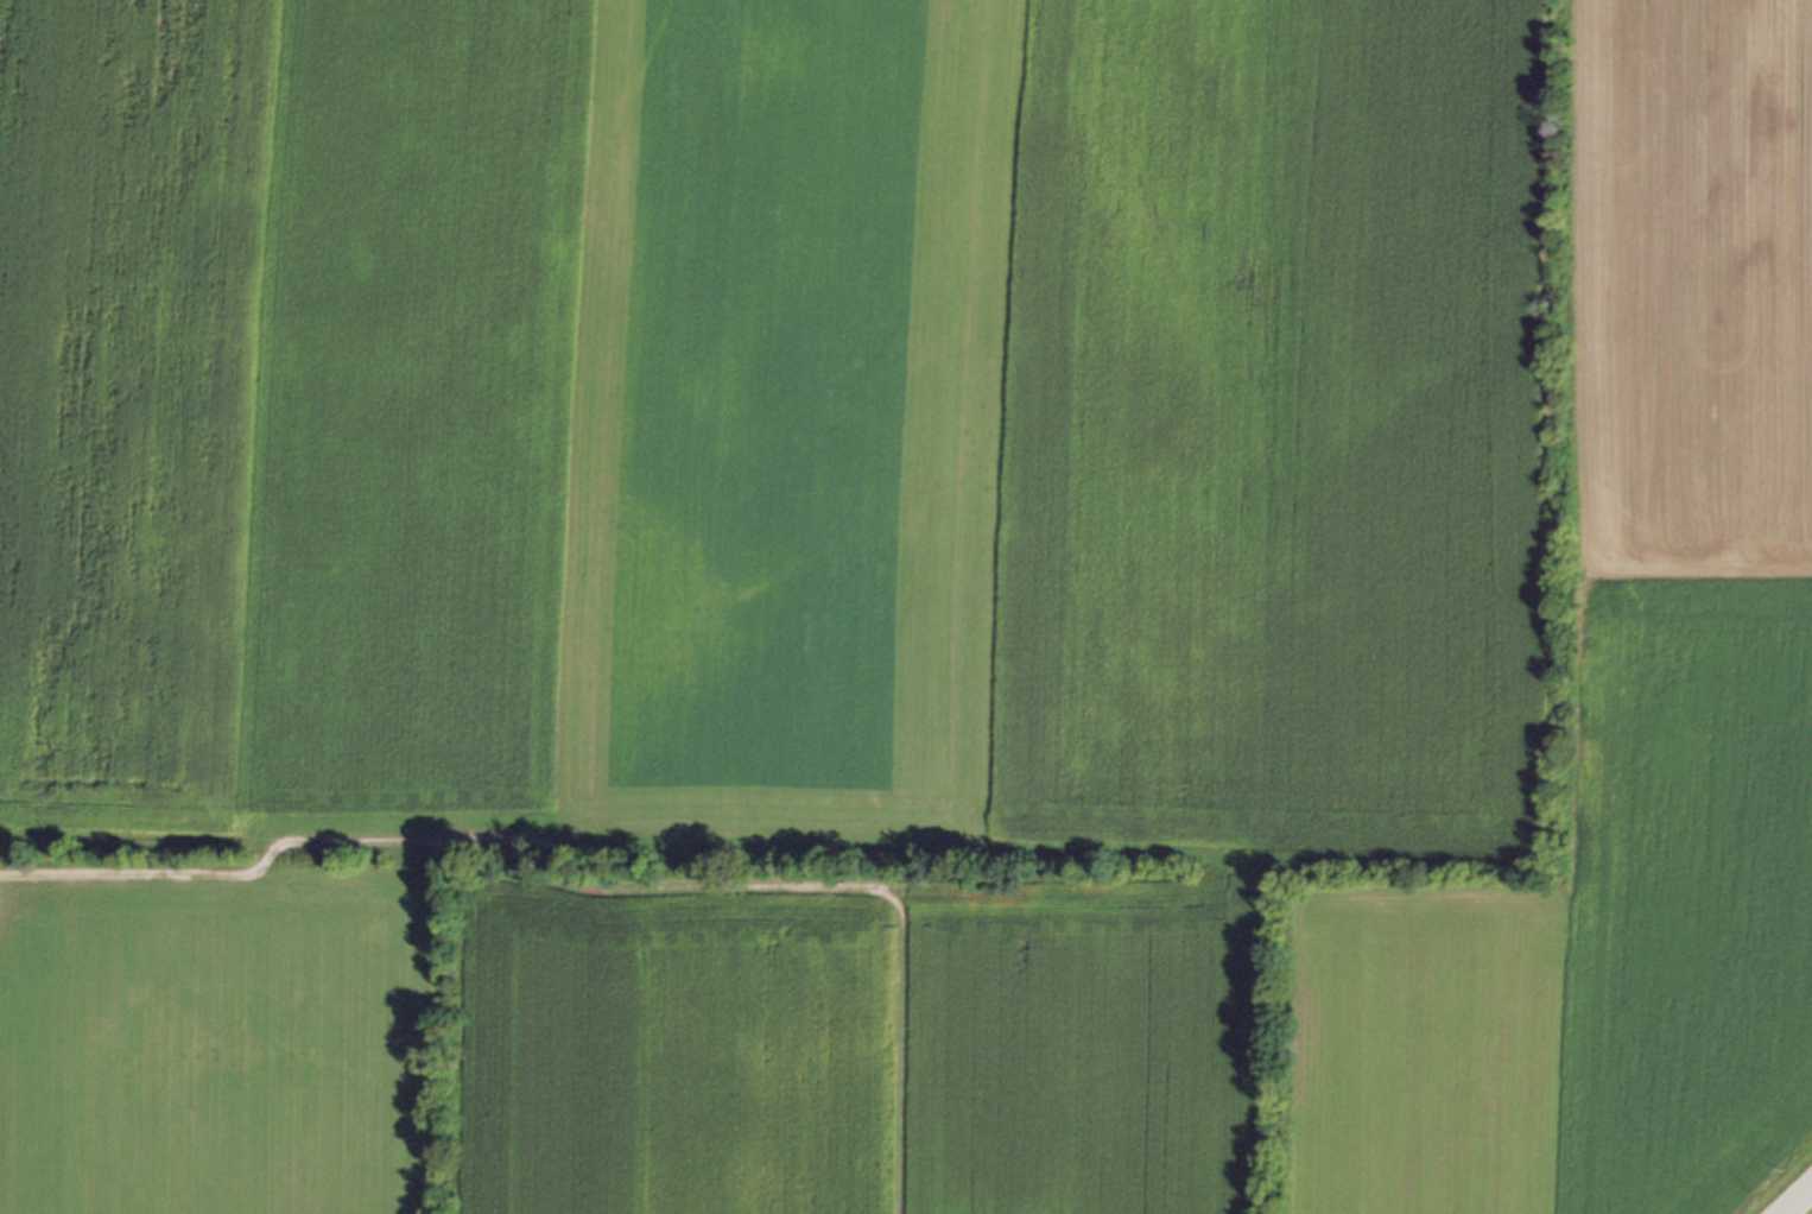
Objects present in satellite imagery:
road: (1799, 1201)

